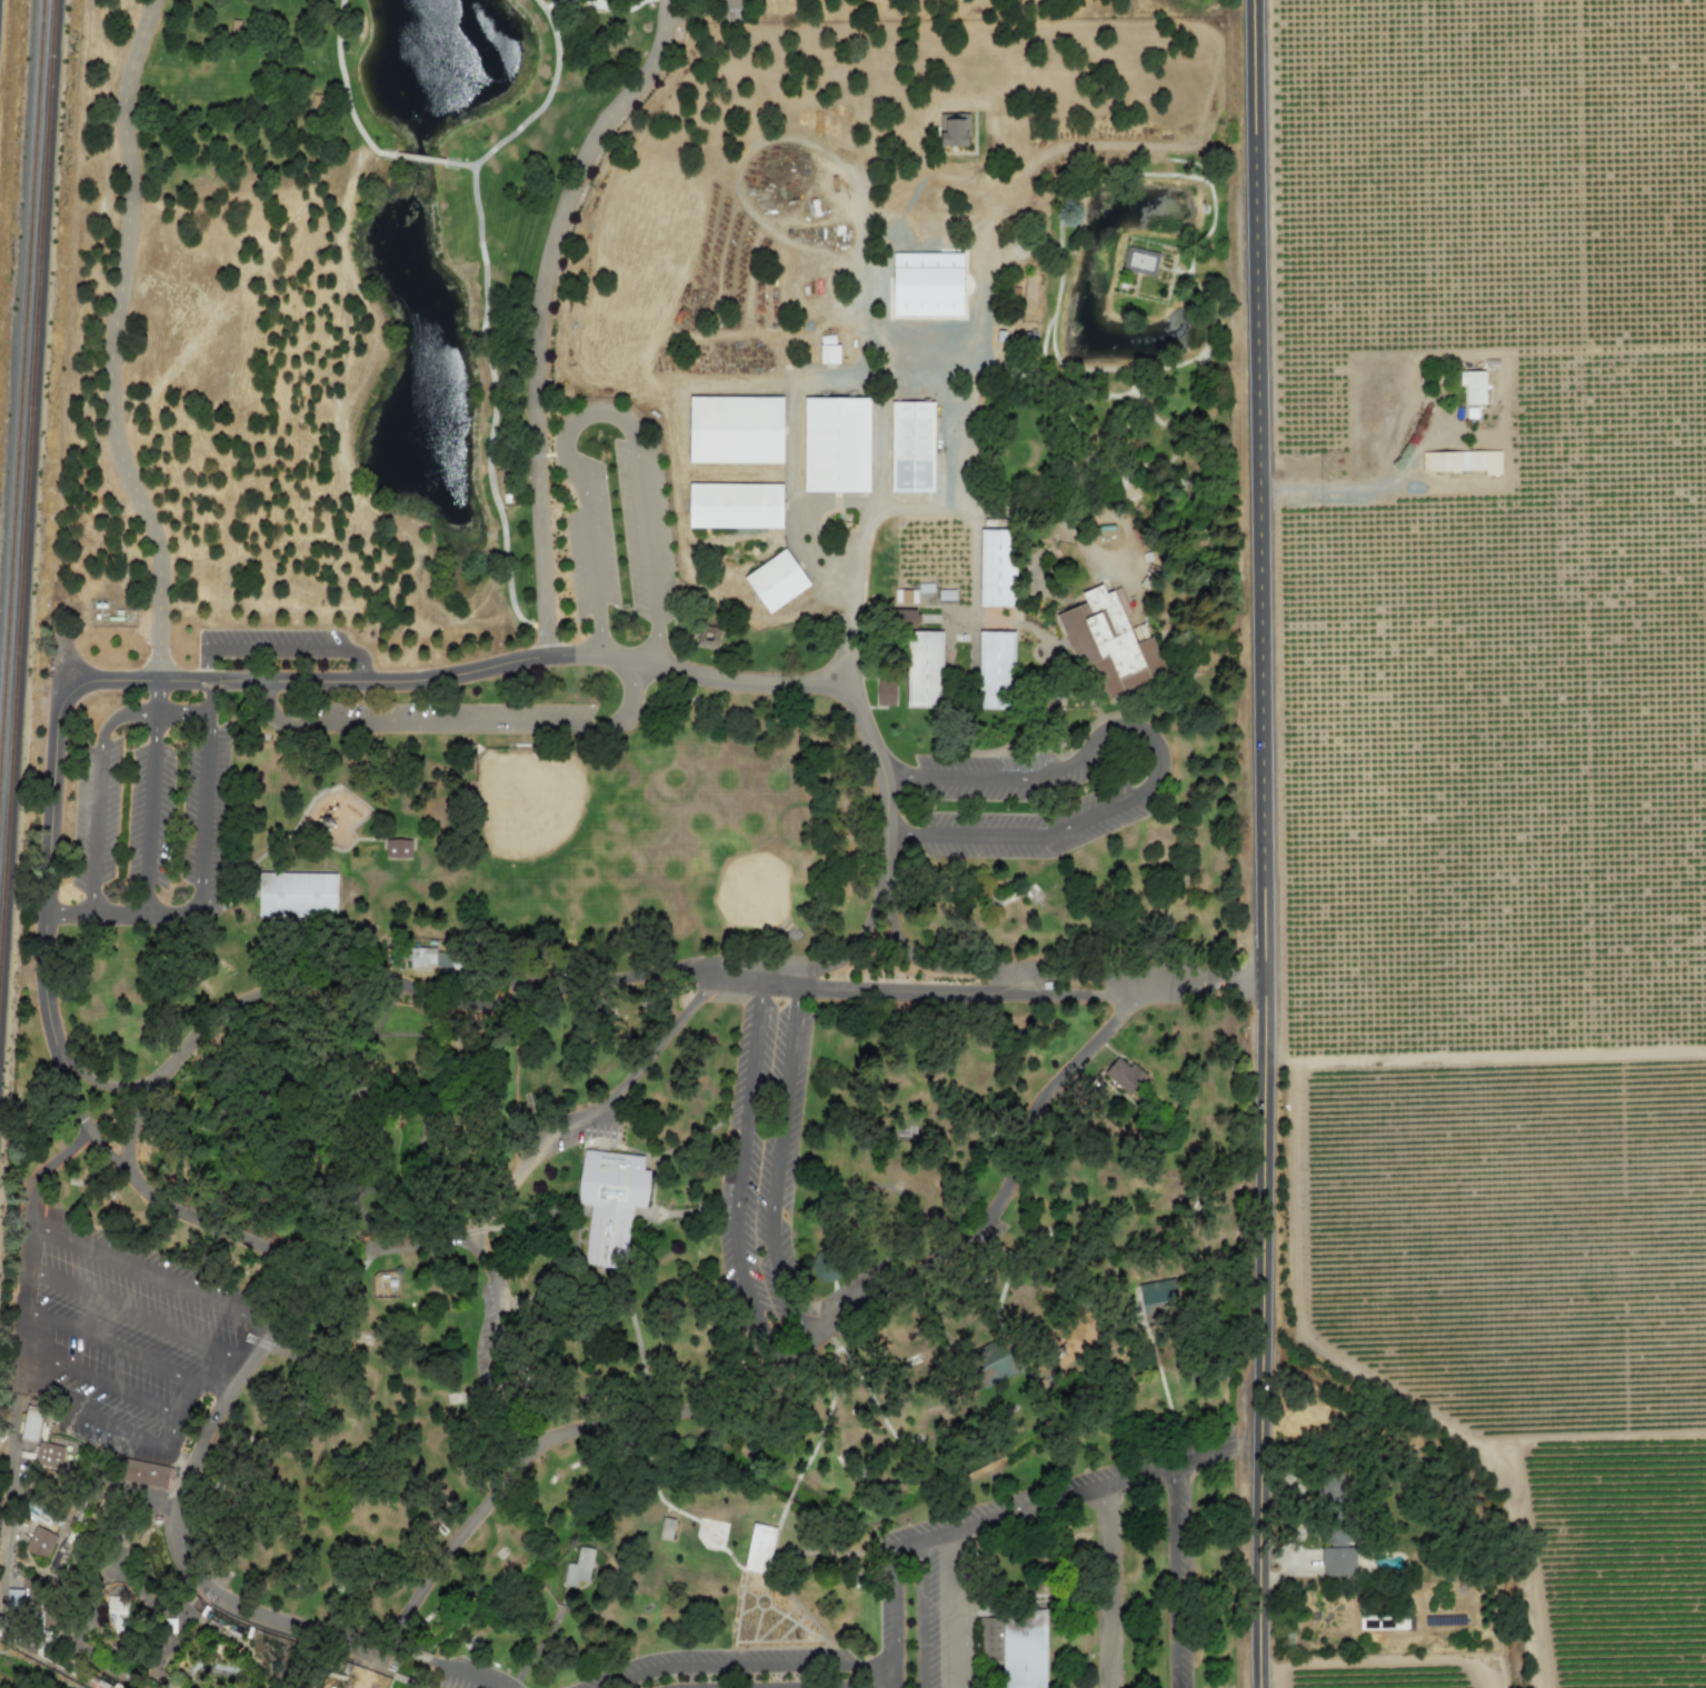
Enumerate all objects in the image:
road: (669, 0)
road: (596, 2)
road: (345, 89)
road: (540, 108)
building: (952, 129)
road: (420, 159)
building: (1140, 261)
building: (927, 284)
road: (539, 312)
road: (112, 341)
railway: (22, 342)
building: (830, 354)
building: (1473, 388)
road: (601, 411)
building: (736, 430)
building: (837, 445)
building: (911, 447)
building: (1461, 461)
road: (1340, 493)
building: (736, 506)
railway: (29, 519)
road: (859, 555)
building: (998, 568)
building: (777, 581)
building: (902, 596)
building: (902, 617)
building: (707, 635)
building: (1107, 643)
parking lot: (269, 645)
road: (279, 649)
road: (1265, 661)
building: (924, 669)
building: (996, 670)
road: (221, 680)
building: (885, 693)
road: (208, 696)
parking lot: (440, 719)
road: (458, 727)
road: (1158, 753)
road: (97, 795)
parking lot: (1028, 796)
road: (150, 815)
parking lot: (151, 819)
park: (545, 819)
road: (200, 846)
building: (398, 848)
park: (636, 858)
park: (728, 863)
building: (298, 895)
road: (854, 947)
building: (421, 956)
building: (443, 960)
road: (985, 970)
road: (585, 980)
road: (1201, 983)
building: (1125, 1075)
road: (106, 1087)
road: (776, 1169)
road: (739, 1175)
road: (510, 1180)
building: (611, 1201)
road: (31, 1245)
road: (151, 1275)
building: (383, 1284)
building: (1158, 1294)
road: (140, 1315)
parking lot: (119, 1332)
road: (1259, 1342)
road: (128, 1351)
road: (781, 1357)
building: (995, 1360)
road: (102, 1382)
building: (31, 1424)
road: (124, 1432)
road: (1217, 1451)
building: (48, 1455)
building: (146, 1474)
road: (178, 1500)
road: (1304, 1514)
road: (971, 1525)
road: (1259, 1525)
building: (1335, 1528)
building: (62, 1529)
building: (176, 1534)
building: (39, 1542)
building: (760, 1548)
building: (579, 1567)
road: (1176, 1577)
road: (1103, 1587)
building: (19, 1597)
road: (958, 1609)
building: (116, 1610)
road: (921, 1615)
building: (989, 1636)
road: (391, 1648)
building: (1024, 1651)
road: (415, 1656)
road: (752, 1666)
road: (465, 1674)
road: (877, 1684)
road: (896, 1684)
theme park: (430, 1686)
building: (332, 1687)

